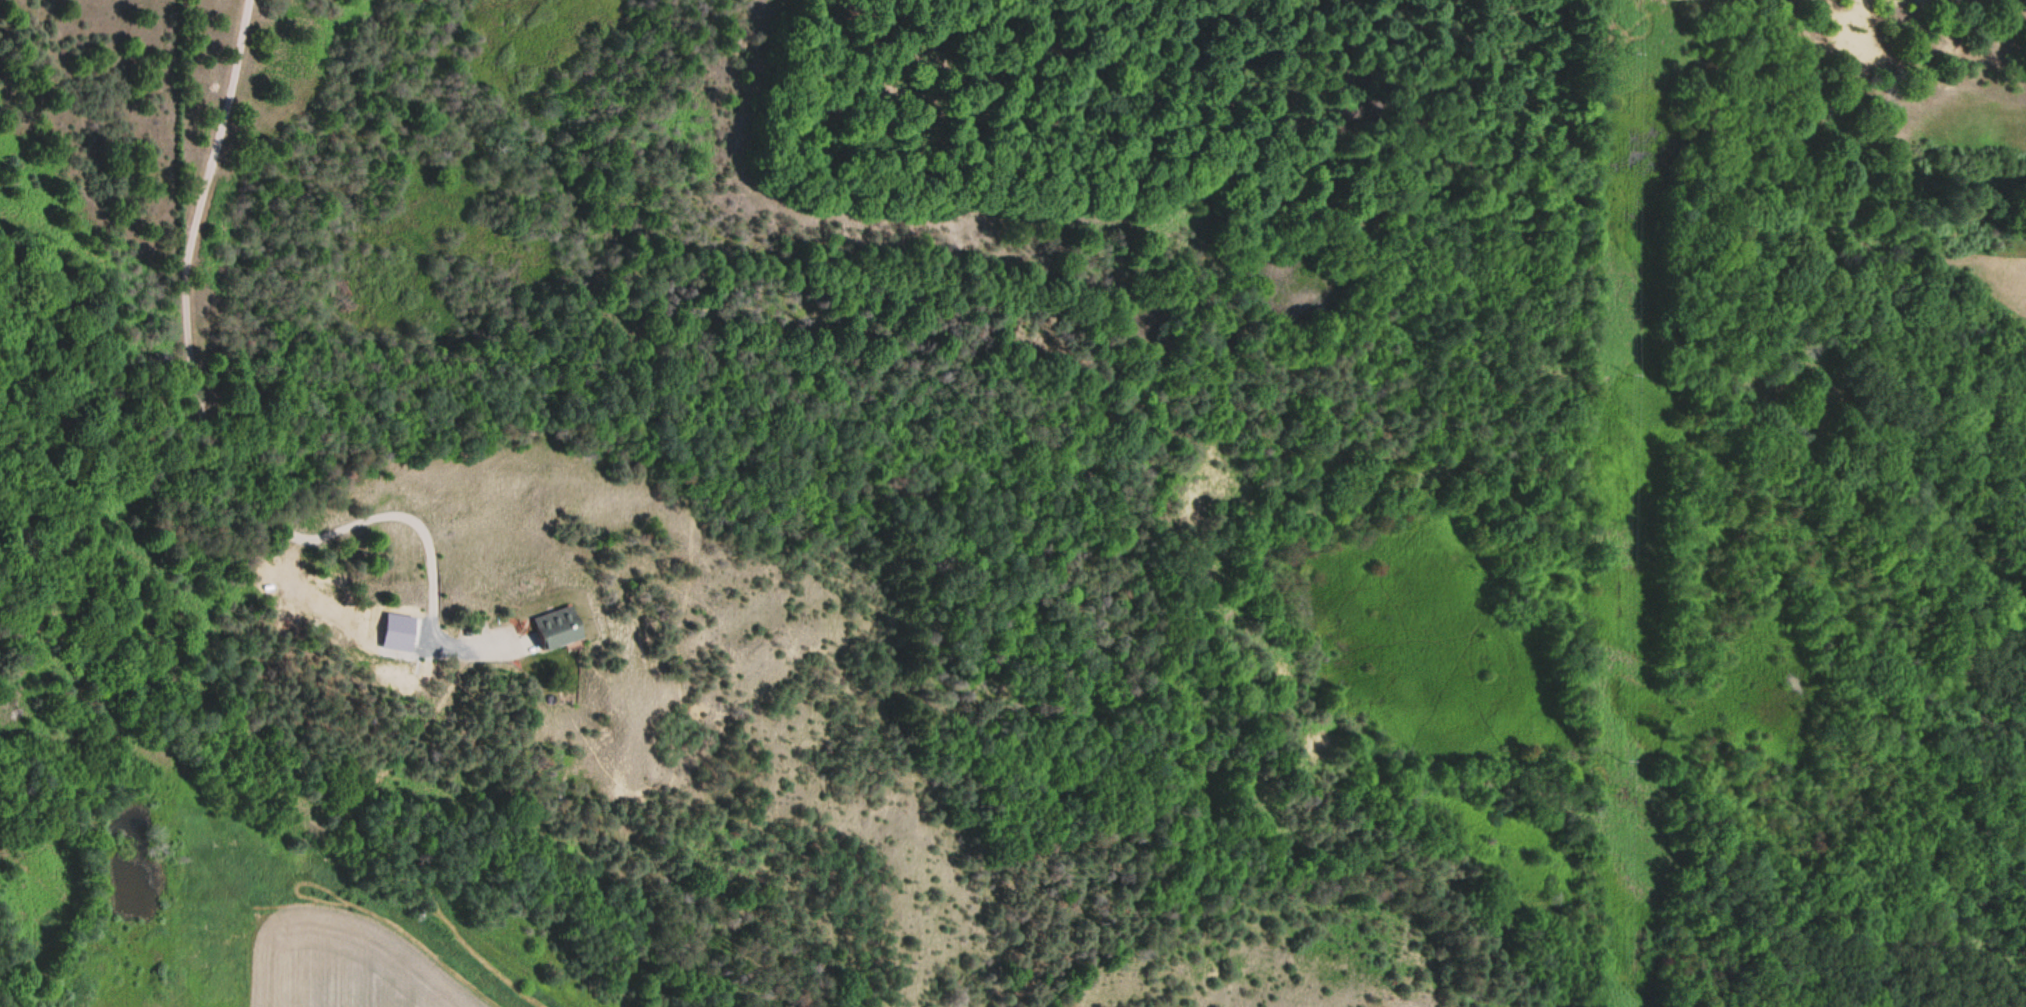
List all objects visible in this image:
building: (557, 627)

